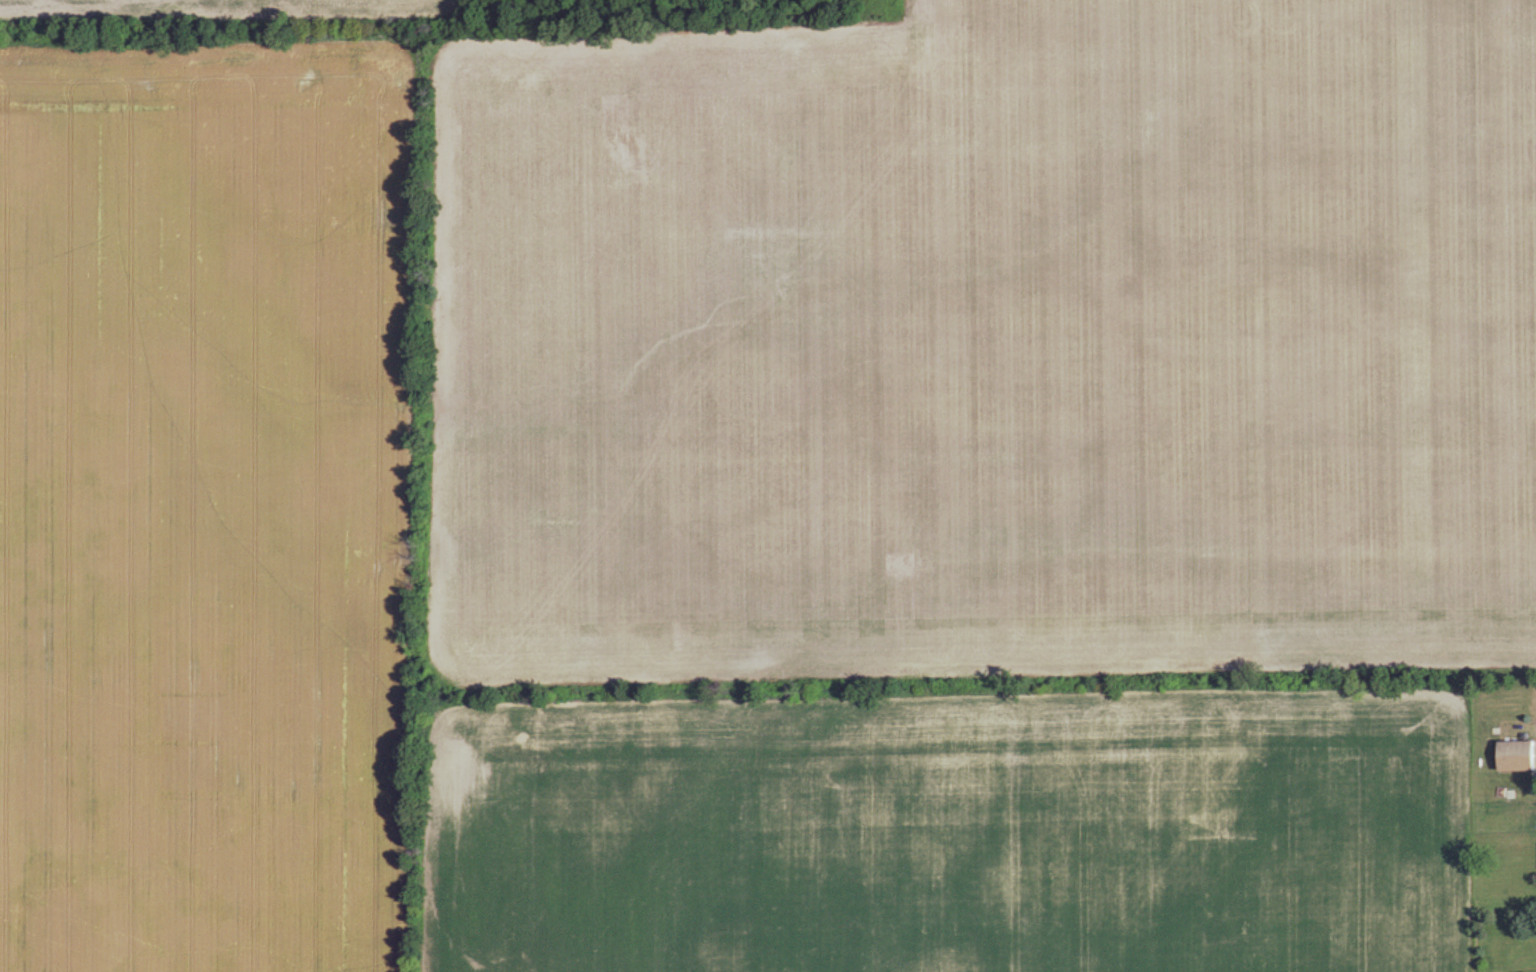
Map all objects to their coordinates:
building: (1512, 755)

